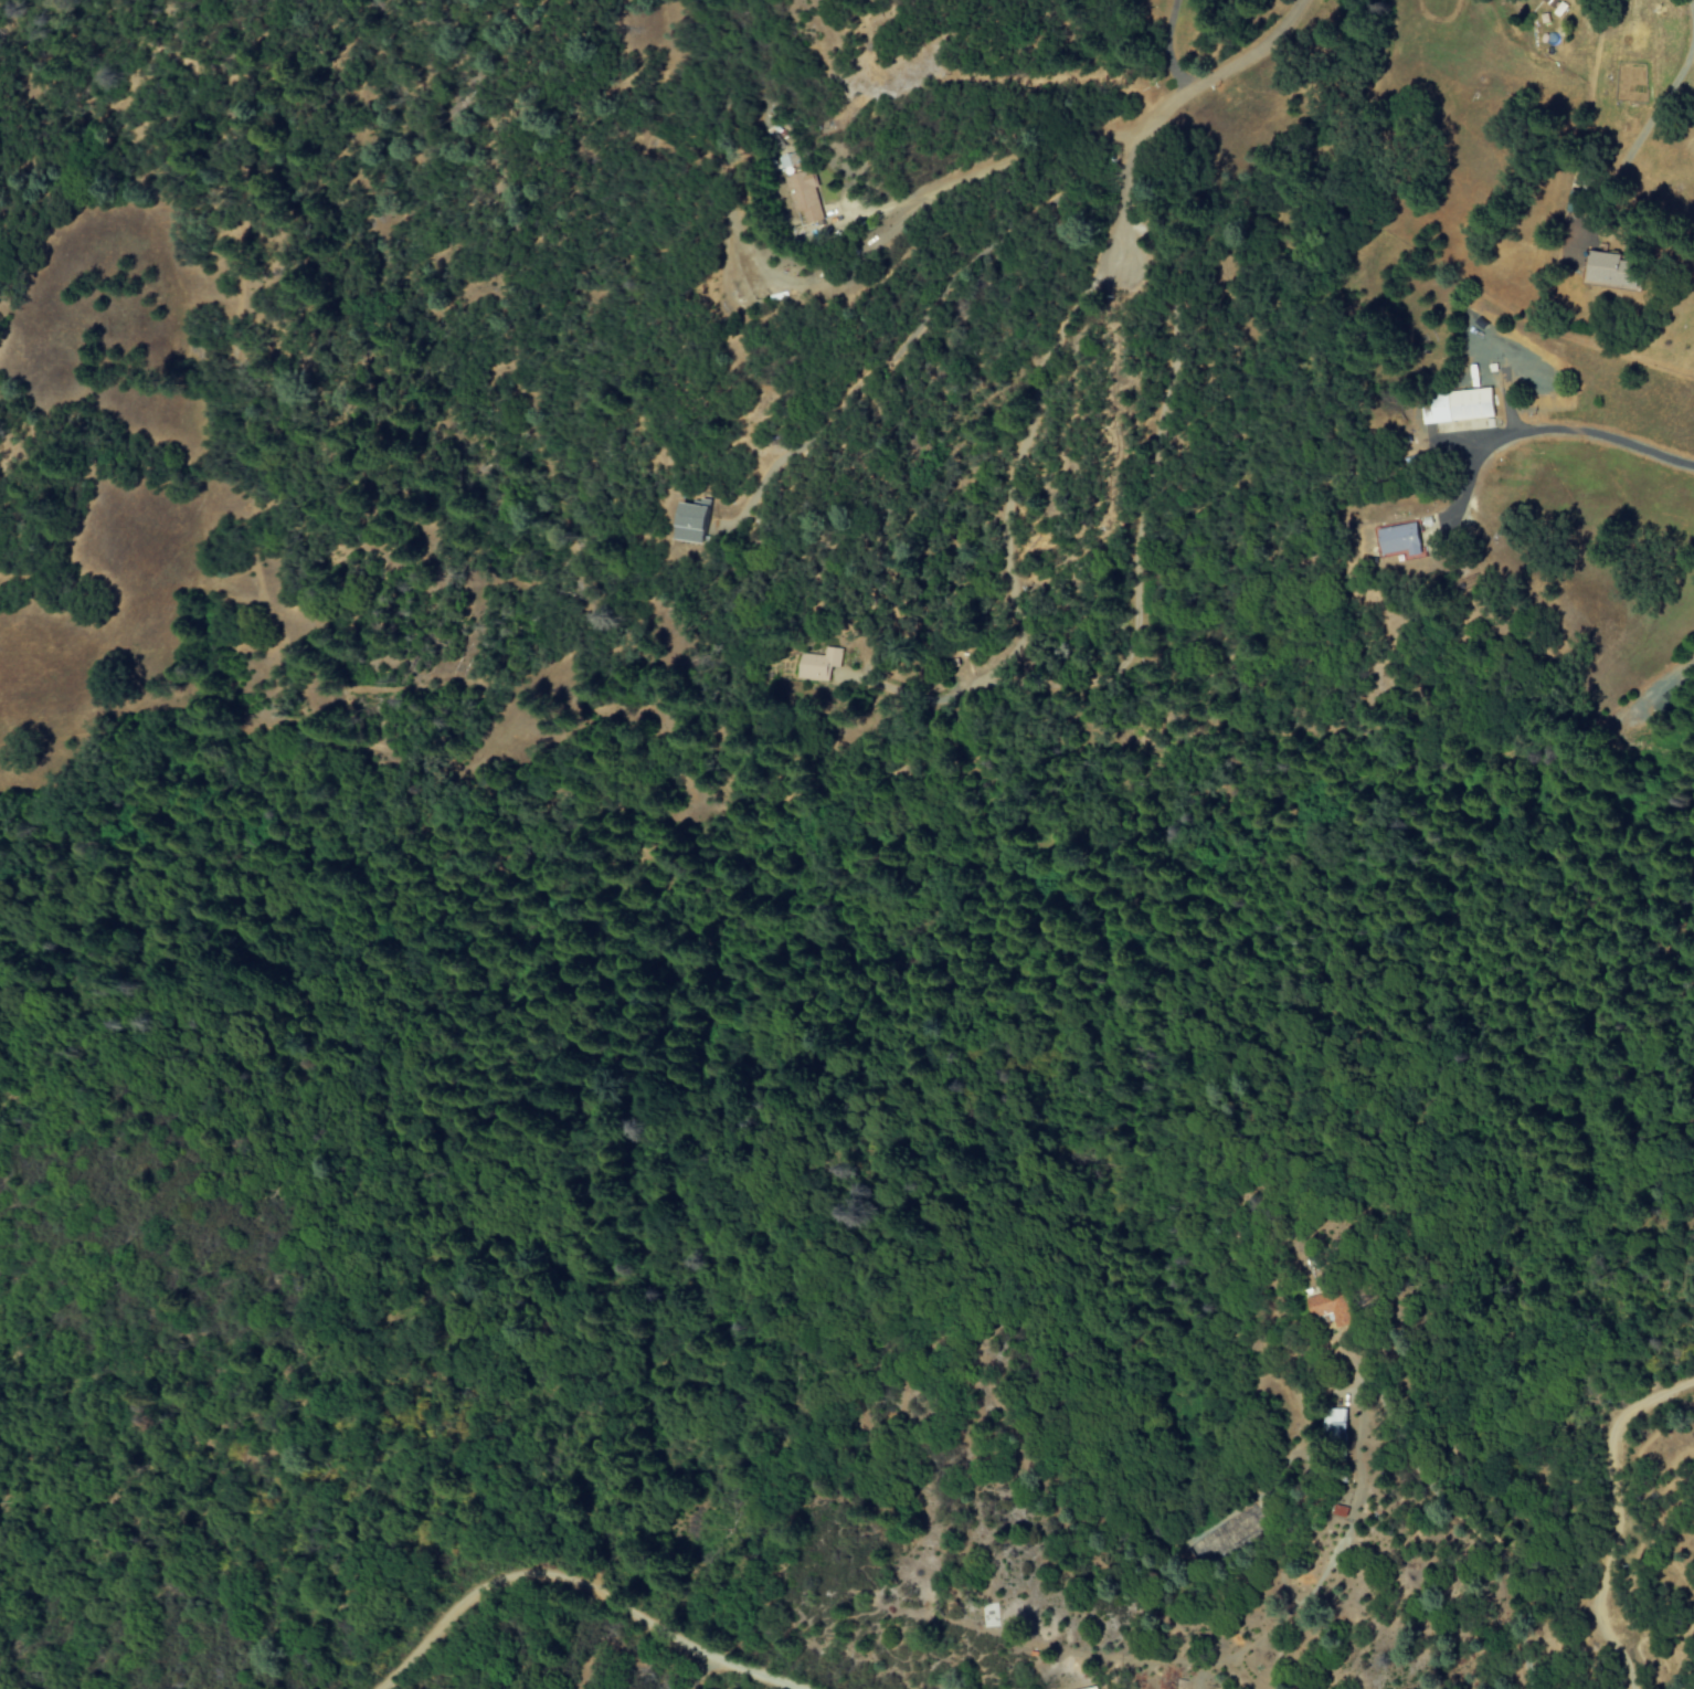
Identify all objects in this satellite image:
building: (1549, 2)
road: (1168, 105)
road: (1654, 109)
building: (803, 198)
building: (1602, 271)
building: (1457, 407)
road: (1570, 431)
building: (690, 521)
building: (1395, 538)
building: (817, 664)
building: (1326, 1307)
building: (1333, 1426)
road: (1616, 1519)
road: (1469, 1520)
road: (579, 1584)

